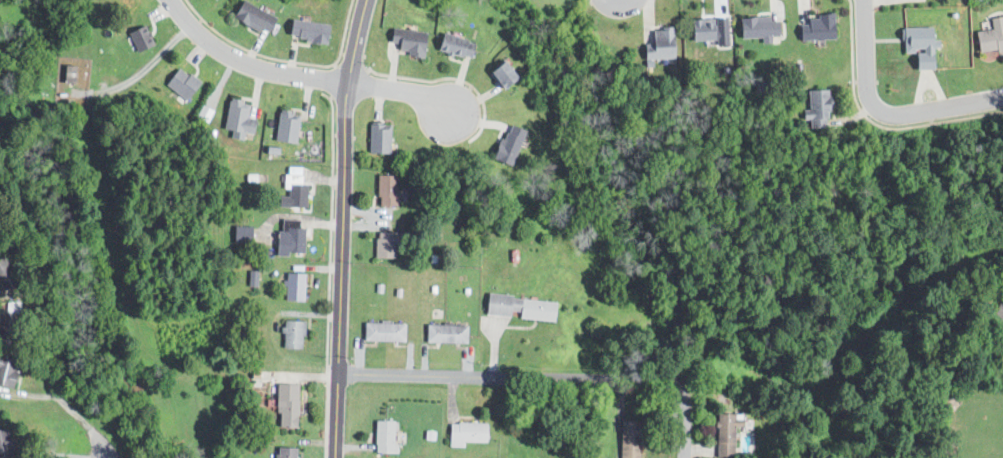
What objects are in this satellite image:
building: (212, 0)
building: (253, 18)
building: (758, 28)
building: (816, 28)
building: (702, 30)
building: (307, 31)
road: (342, 33)
building: (139, 37)
building: (990, 37)
building: (407, 42)
building: (918, 45)
building: (453, 46)
building: (659, 46)
road: (250, 51)
road: (863, 51)
road: (149, 63)
road: (389, 66)
building: (66, 73)
road: (298, 76)
building: (499, 76)
road: (441, 77)
road: (330, 81)
building: (181, 83)
road: (458, 84)
road: (474, 99)
building: (815, 107)
road: (931, 107)
building: (238, 117)
road: (477, 119)
road: (873, 123)
building: (285, 126)
building: (378, 137)
building: (506, 144)
building: (292, 190)
building: (385, 190)
road: (341, 228)
building: (241, 233)
building: (288, 240)
building: (386, 243)
road: (327, 273)
building: (5, 276)
building: (293, 286)
building: (518, 307)
building: (998, 310)
building: (7, 324)
building: (383, 332)
building: (444, 333)
building: (291, 334)
building: (6, 371)
road: (509, 378)
road: (49, 388)
building: (285, 405)
road: (682, 421)
building: (465, 432)
building: (724, 433)
building: (384, 436)
building: (628, 439)
building: (4, 443)
building: (285, 452)

